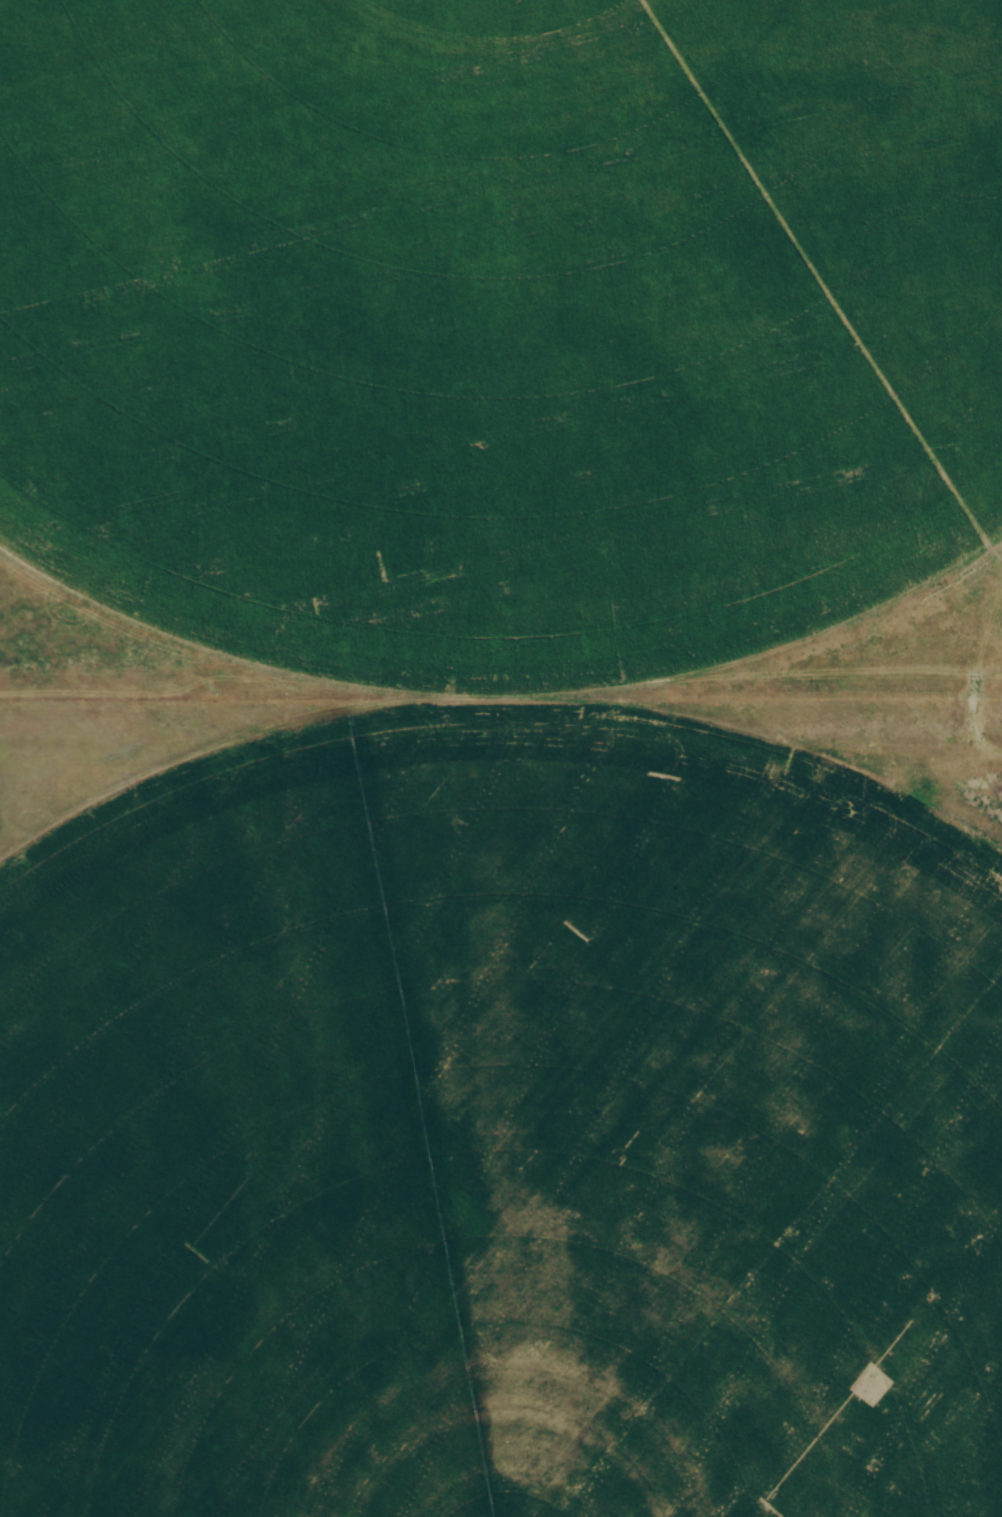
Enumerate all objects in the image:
crop: (499, 319)
crop: (502, 1134)

